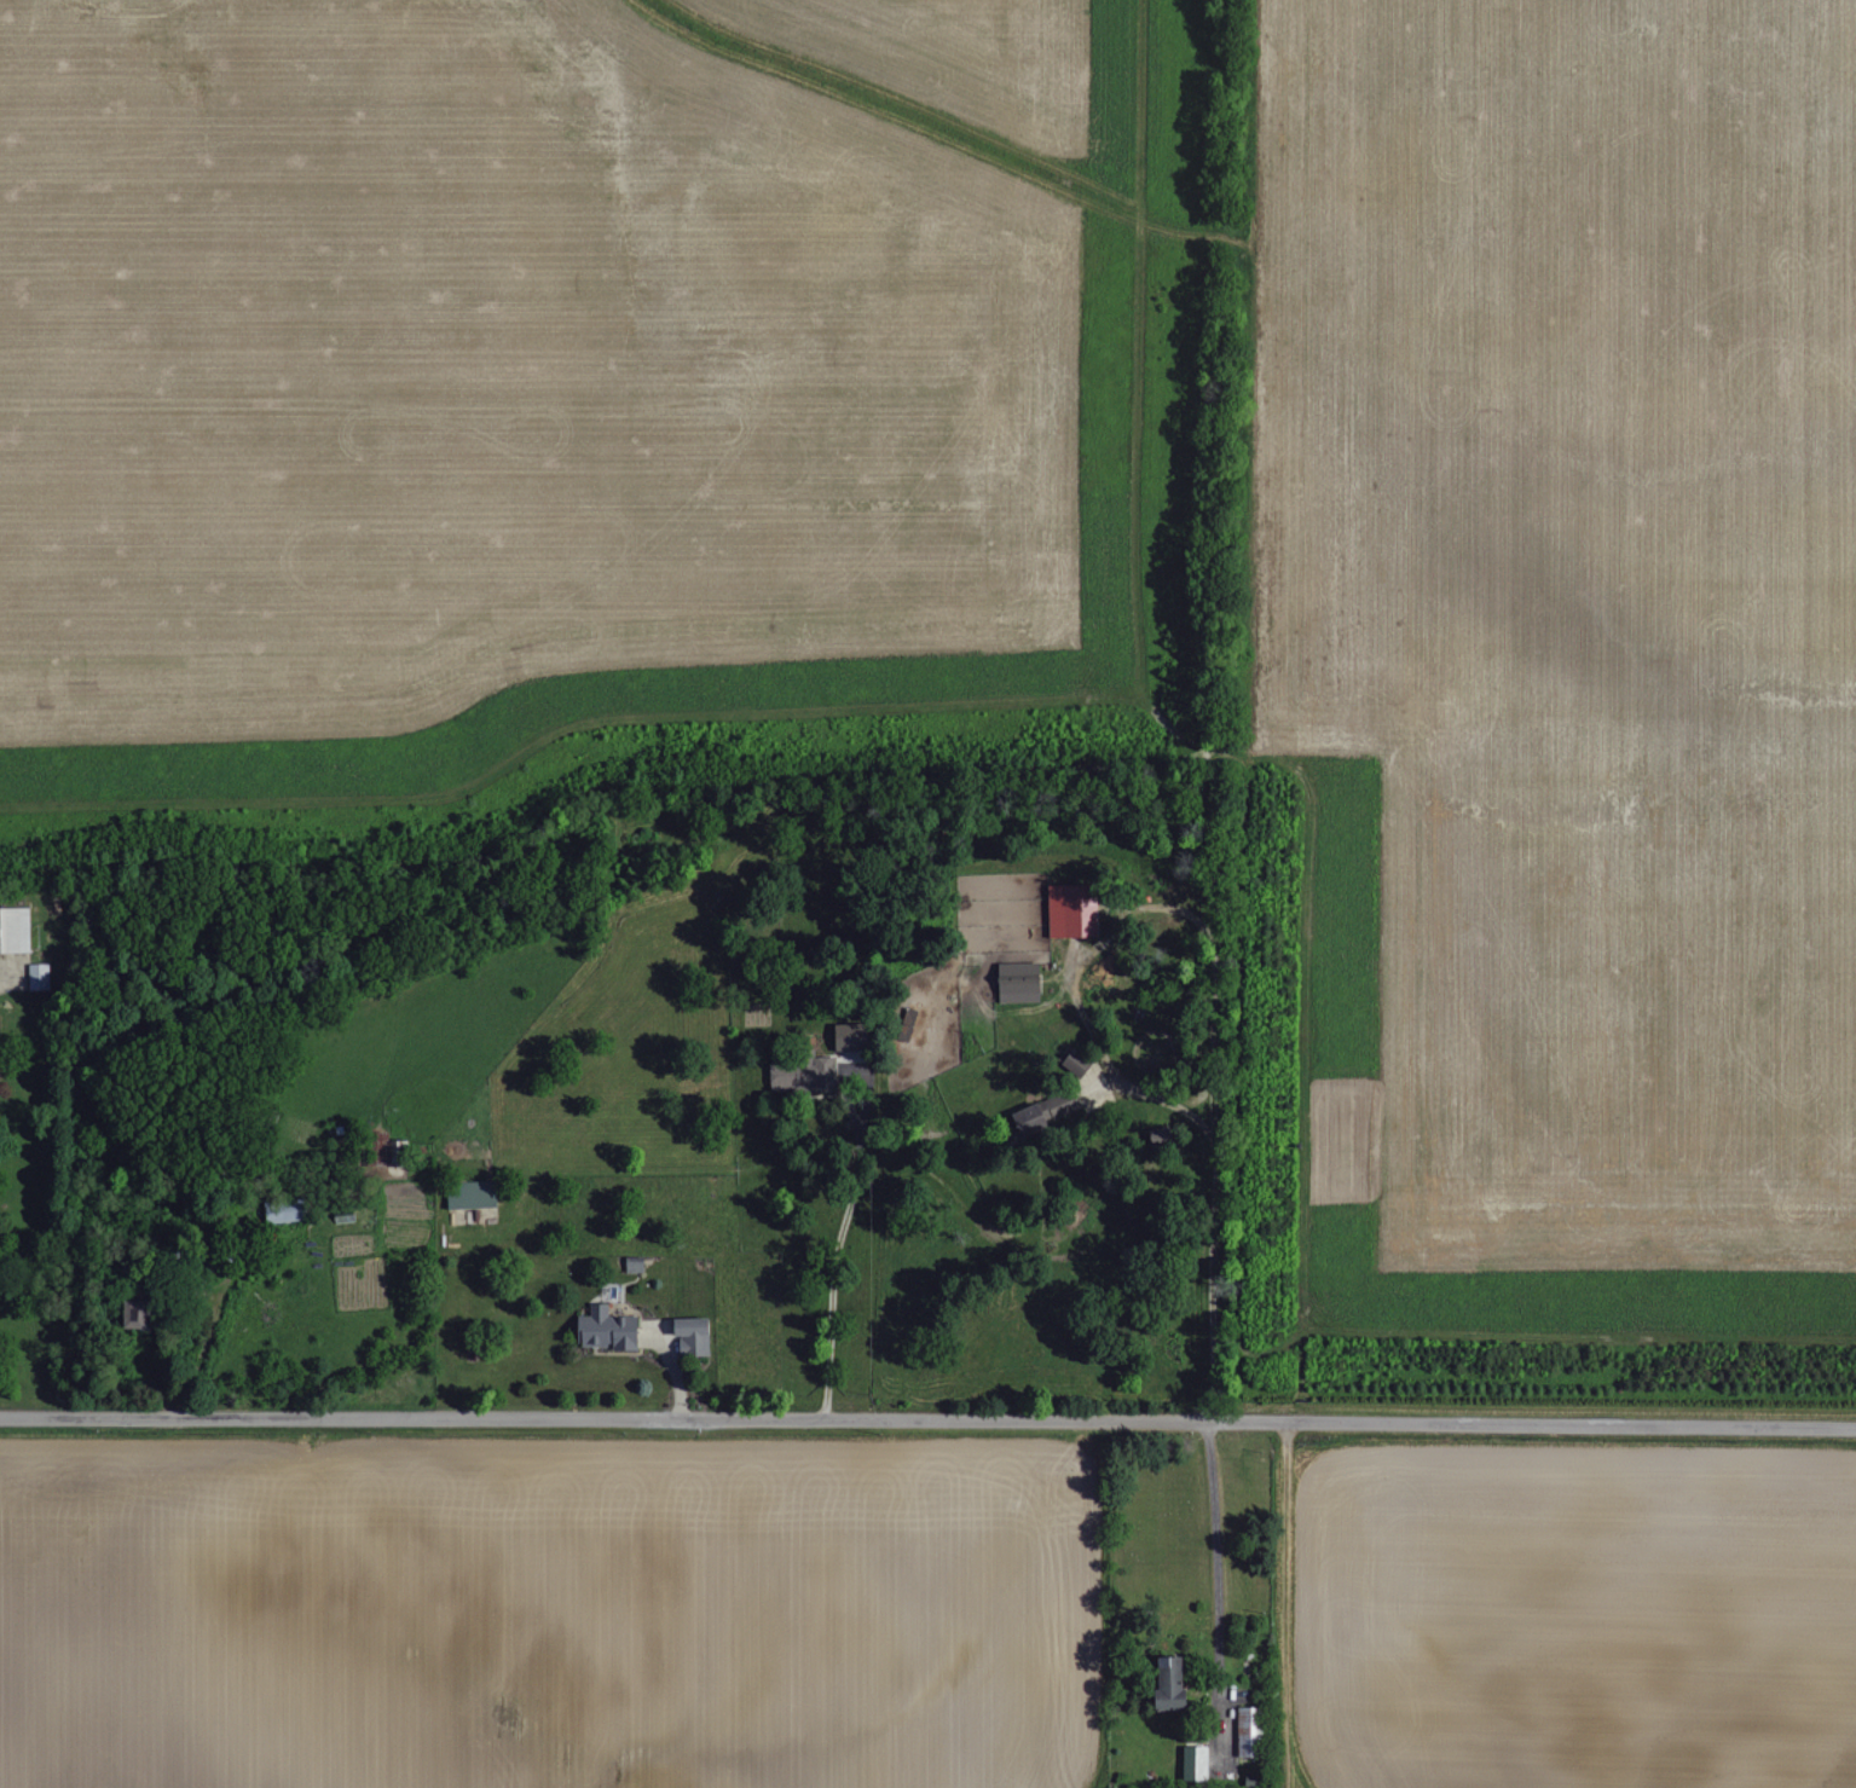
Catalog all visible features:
building: (1065, 913)
building: (16, 930)
building: (41, 977)
building: (1013, 983)
building: (840, 1037)
building: (1070, 1063)
building: (799, 1072)
building: (1037, 1113)
building: (398, 1153)
building: (467, 1196)
building: (289, 1214)
road: (1210, 1227)
road: (837, 1243)
building: (631, 1265)
building: (146, 1315)
building: (602, 1330)
building: (688, 1336)
road: (927, 1420)
road: (1216, 1592)
building: (1157, 1686)
building: (1247, 1724)
building: (1190, 1765)

